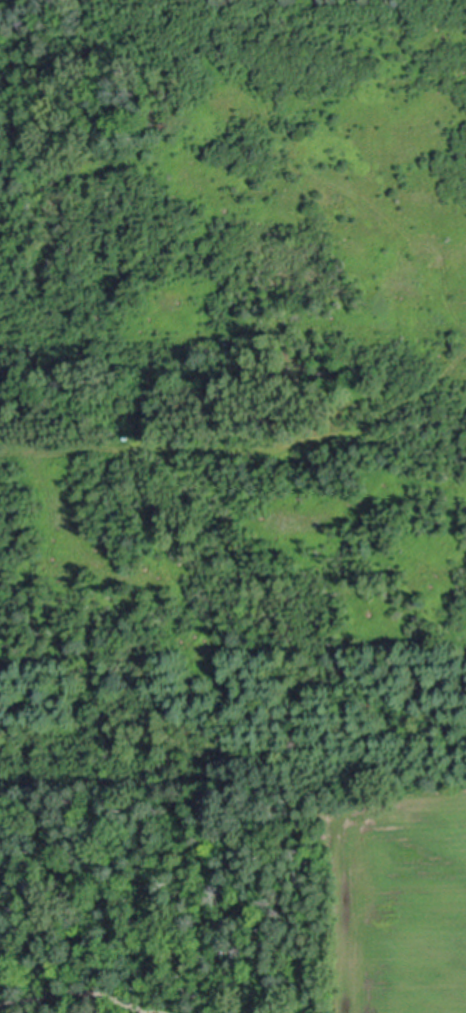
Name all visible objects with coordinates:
road: (81, 989)

